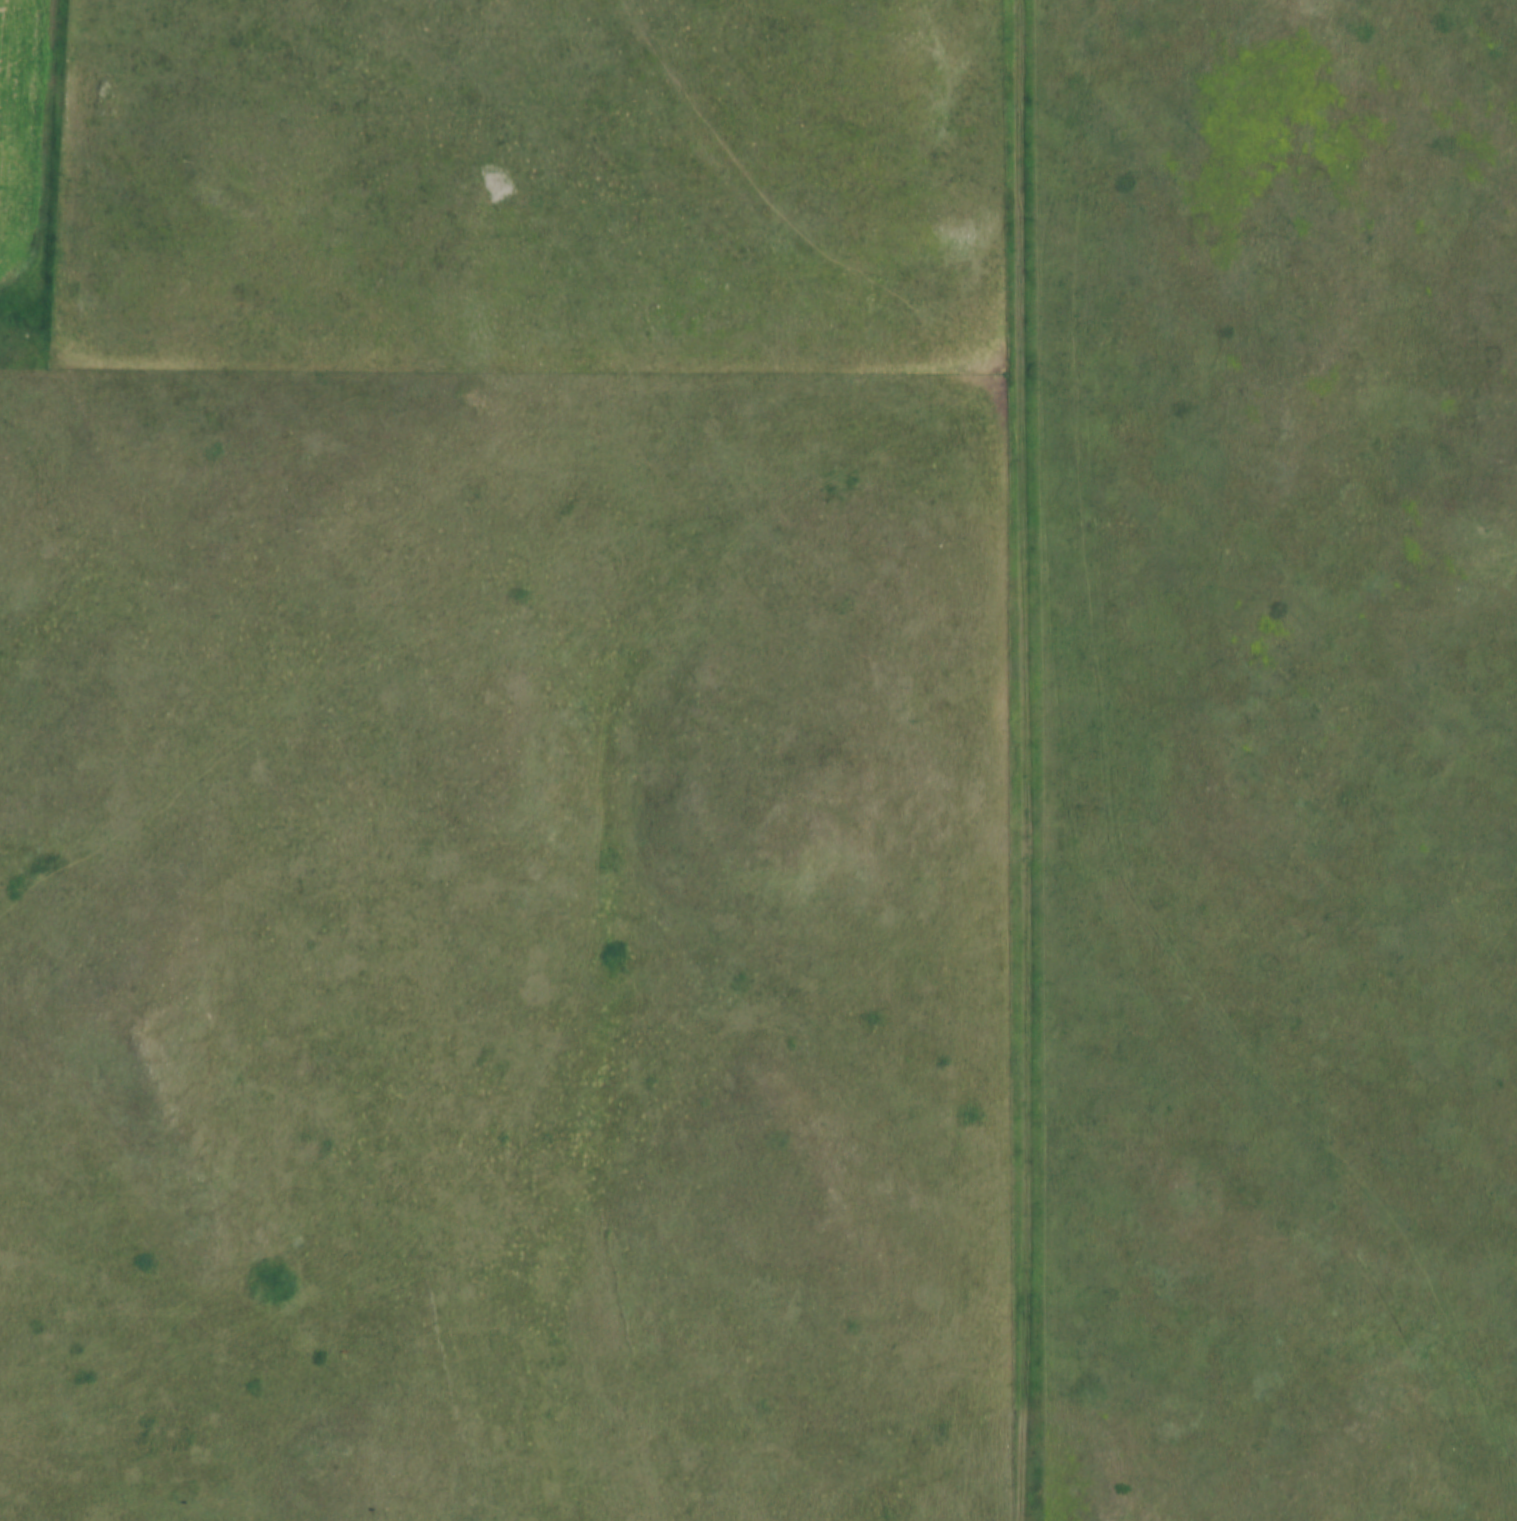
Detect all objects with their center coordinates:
road: (1020, 760)

